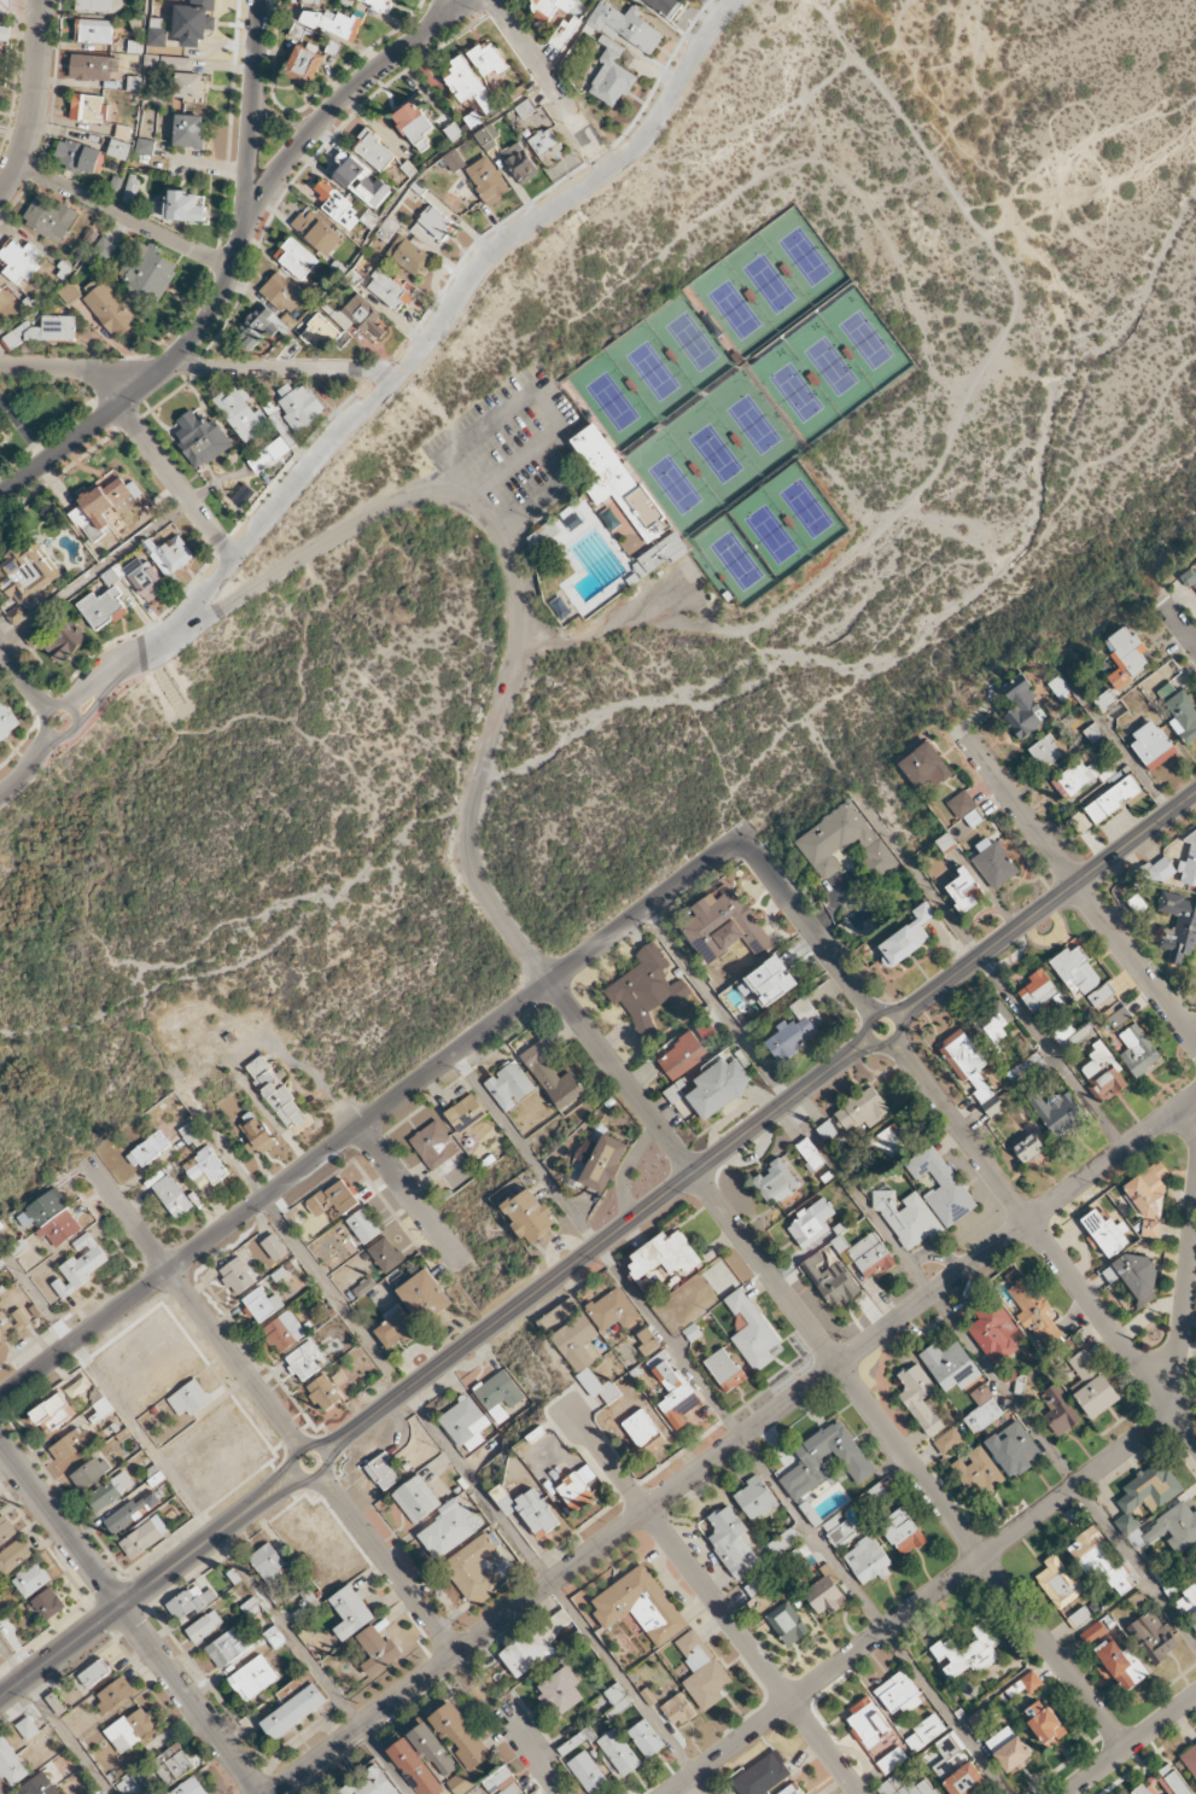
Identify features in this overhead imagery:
building: (310, 0)
building: (4, 2)
building: (378, 2)
building: (94, 5)
road: (439, 5)
road: (444, 5)
building: (665, 6)
building: (548, 7)
road: (821, 11)
building: (194, 22)
building: (332, 23)
road: (834, 29)
building: (298, 30)
building: (94, 31)
building: (157, 31)
building: (4, 33)
building: (333, 47)
building: (618, 48)
building: (486, 59)
building: (304, 65)
building: (93, 66)
road: (660, 74)
building: (466, 82)
road: (550, 85)
building: (191, 86)
road: (35, 101)
building: (88, 107)
road: (333, 109)
road: (278, 120)
building: (413, 124)
building: (122, 130)
building: (188, 130)
road: (728, 132)
building: (547, 145)
building: (145, 146)
building: (118, 148)
building: (373, 150)
road: (1075, 150)
road: (622, 153)
building: (77, 156)
road: (594, 156)
building: (453, 161)
building: (520, 164)
road: (1122, 179)
building: (360, 180)
building: (488, 180)
building: (132, 188)
building: (336, 204)
building: (185, 206)
road: (1051, 208)
road: (126, 216)
building: (48, 217)
road: (696, 221)
building: (316, 232)
road: (469, 249)
road: (886, 249)
building: (103, 251)
building: (407, 255)
building: (296, 258)
building: (18, 260)
building: (148, 274)
building: (389, 289)
building: (0, 290)
road: (216, 292)
building: (281, 293)
building: (110, 310)
building: (363, 316)
road: (445, 321)
building: (256, 327)
building: (42, 331)
building: (317, 332)
road: (84, 368)
road: (284, 368)
road: (377, 369)
road: (544, 389)
road: (536, 396)
park: (743, 397)
building: (301, 407)
building: (239, 412)
building: (0, 420)
road: (946, 423)
building: (200, 438)
parking lot: (513, 445)
road: (1118, 453)
building: (268, 455)
road: (296, 455)
road: (175, 482)
building: (618, 482)
road: (549, 491)
building: (244, 495)
building: (104, 506)
road: (979, 542)
building: (634, 544)
road: (220, 546)
park: (638, 551)
building: (169, 554)
building: (659, 555)
building: (27, 572)
road: (95, 572)
building: (144, 577)
road: (511, 578)
building: (1189, 578)
building: (103, 607)
building: (16, 614)
road: (601, 625)
road: (1180, 627)
road: (133, 631)
building: (64, 642)
building: (1125, 656)
road: (16, 669)
road: (105, 672)
road: (110, 685)
building: (1058, 687)
road: (37, 698)
road: (46, 699)
building: (1104, 699)
road: (35, 706)
road: (48, 707)
building: (1022, 707)
building: (1115, 710)
building: (1179, 711)
building: (6, 720)
road: (23, 738)
road: (772, 740)
road: (1116, 744)
building: (1151, 744)
road: (33, 747)
building: (1046, 750)
road: (42, 753)
building: (924, 765)
building: (1078, 776)
road: (10, 784)
building: (1113, 799)
building: (961, 804)
road: (722, 817)
building: (844, 843)
building: (994, 862)
building: (1189, 864)
road: (1073, 884)
building: (963, 892)
road: (1046, 907)
building: (723, 926)
building: (1178, 926)
road: (810, 927)
building: (906, 937)
road: (987, 967)
building: (1075, 971)
building: (768, 983)
building: (646, 989)
building: (1040, 991)
building: (1099, 995)
road: (887, 1012)
building: (1118, 1017)
building: (992, 1024)
building: (705, 1029)
building: (797, 1029)
building: (1070, 1035)
building: (1137, 1050)
building: (681, 1055)
building: (1028, 1068)
building: (972, 1070)
building: (552, 1073)
building: (1103, 1073)
building: (509, 1085)
building: (719, 1087)
building: (275, 1091)
building: (862, 1109)
building: (1057, 1112)
building: (465, 1113)
road: (371, 1117)
building: (191, 1130)
building: (255, 1134)
building: (891, 1140)
building: (433, 1144)
building: (1027, 1147)
building: (147, 1149)
building: (603, 1163)
building: (205, 1165)
building: (776, 1181)
building: (941, 1186)
building: (171, 1195)
building: (342, 1196)
road: (414, 1196)
building: (1148, 1196)
building: (42, 1208)
building: (529, 1215)
road: (637, 1215)
building: (908, 1218)
building: (811, 1223)
building: (363, 1225)
building: (60, 1229)
road: (288, 1233)
building: (1104, 1233)
road: (1044, 1242)
building: (274, 1247)
building: (385, 1254)
building: (664, 1254)
building: (871, 1256)
building: (81, 1264)
building: (237, 1275)
building: (1137, 1275)
road: (921, 1278)
building: (830, 1281)
building: (363, 1287)
building: (424, 1295)
road: (192, 1301)
building: (261, 1304)
building: (612, 1309)
building: (1034, 1311)
building: (21, 1318)
building: (395, 1327)
building: (5, 1328)
building: (994, 1330)
building: (284, 1332)
building: (752, 1332)
building: (646, 1341)
building: (577, 1342)
building: (303, 1361)
road: (838, 1364)
building: (950, 1365)
building: (724, 1369)
building: (597, 1386)
building: (1091, 1386)
building: (672, 1390)
building: (322, 1392)
building: (498, 1394)
building: (188, 1398)
building: (918, 1398)
building: (982, 1410)
building: (1058, 1410)
building: (53, 1413)
road: (363, 1420)
building: (465, 1423)
road: (730, 1423)
building: (642, 1431)
building: (947, 1440)
road: (731, 1443)
road: (315, 1445)
building: (71, 1448)
building: (1014, 1449)
building: (827, 1461)
building: (976, 1470)
building: (383, 1472)
building: (89, 1473)
building: (588, 1476)
building: (109, 1491)
building: (574, 1492)
building: (877, 1492)
building: (1147, 1493)
building: (754, 1498)
building: (416, 1499)
building: (527, 1508)
building: (132, 1511)
road: (203, 1520)
building: (1173, 1527)
building: (448, 1528)
building: (6, 1530)
building: (839, 1531)
building: (902, 1532)
road: (1010, 1534)
building: (144, 1537)
building: (783, 1540)
building: (731, 1542)
building: (13, 1556)
building: (867, 1560)
building: (268, 1562)
road: (387, 1562)
building: (1098, 1562)
building: (471, 1567)
building: (31, 1579)
building: (1058, 1583)
road: (148, 1585)
road: (555, 1591)
building: (482, 1596)
road: (712, 1596)
building: (192, 1602)
building: (307, 1602)
building: (47, 1603)
building: (640, 1606)
building: (1188, 1606)
building: (351, 1610)
building: (1079, 1617)
road: (129, 1619)
building: (787, 1624)
building: (204, 1626)
building: (1093, 1631)
building: (274, 1637)
building: (1151, 1637)
building: (533, 1646)
building: (228, 1647)
building: (377, 1650)
building: (969, 1652)
building: (1121, 1664)
building: (702, 1670)
building: (94, 1672)
building: (252, 1677)
building: (1031, 1682)
building: (1015, 1688)
building: (560, 1690)
building: (115, 1694)
building: (898, 1694)
building: (617, 1699)
building: (678, 1709)
building: (293, 1711)
road: (53, 1722)
building: (867, 1722)
building: (1043, 1722)
building: (27, 1728)
building: (132, 1729)
building: (924, 1731)
building: (460, 1736)
building: (646, 1737)
building: (576, 1741)
building: (880, 1745)
road: (1131, 1745)
building: (1009, 1749)
building: (433, 1751)
road: (529, 1751)
building: (618, 1752)
building: (947, 1754)
building: (891, 1760)
building: (1190, 1760)
building: (11, 1764)
building: (171, 1764)
building: (414, 1767)
building: (589, 1773)
building: (762, 1775)
building: (965, 1781)
building: (371, 1783)
building: (460, 1783)
building: (502, 1783)
building: (1162, 1783)
building: (906, 1784)
building: (37, 1786)
building: (128, 1786)
building: (189, 1788)
building: (790, 1789)
building: (334, 1793)

